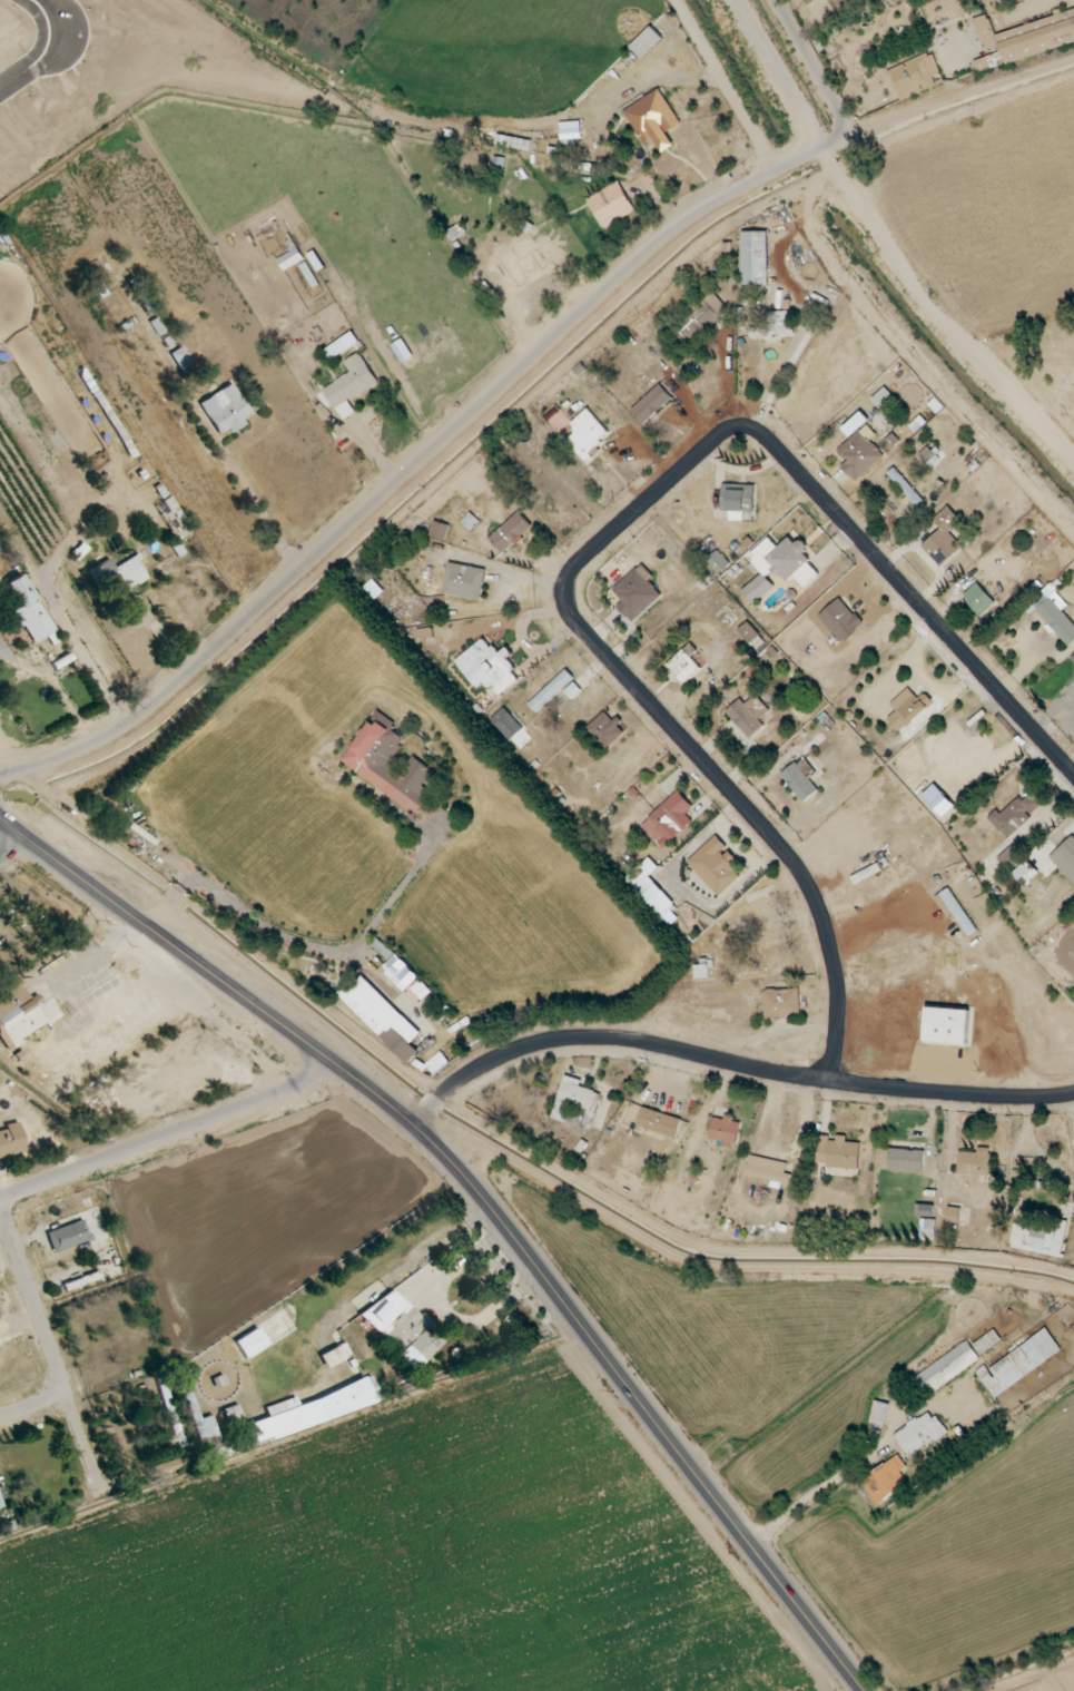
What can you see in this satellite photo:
building: (985, 32)
building: (1037, 36)
building: (647, 43)
road: (778, 75)
building: (914, 77)
building: (652, 120)
building: (570, 132)
building: (512, 142)
building: (610, 205)
building: (753, 258)
building: (290, 259)
building: (509, 272)
road: (956, 278)
building: (701, 316)
building: (775, 325)
building: (180, 360)
building: (351, 385)
building: (881, 399)
building: (651, 404)
road: (476, 405)
building: (225, 410)
building: (855, 424)
building: (587, 434)
building: (859, 454)
building: (905, 488)
road: (248, 495)
building: (738, 501)
building: (439, 531)
building: (510, 532)
road: (608, 535)
building: (943, 539)
building: (785, 561)
building: (716, 562)
building: (127, 573)
building: (464, 581)
building: (757, 589)
building: (637, 593)
building: (978, 600)
road: (49, 602)
building: (28, 610)
building: (1054, 616)
building: (840, 620)
building: (750, 636)
building: (1072, 660)
building: (683, 665)
building: (487, 667)
building: (550, 691)
building: (572, 691)
building: (907, 710)
building: (748, 716)
building: (506, 725)
building: (605, 730)
building: (366, 760)
building: (800, 779)
building: (1014, 815)
building: (669, 820)
park: (7, 843)
road: (11, 847)
building: (1065, 858)
building: (715, 866)
building: (651, 893)
building: (957, 912)
road: (878, 924)
road: (312, 947)
building: (701, 972)
building: (421, 990)
building: (781, 1003)
building: (18, 1015)
building: (381, 1016)
building: (946, 1026)
road: (729, 1064)
building: (575, 1100)
building: (659, 1123)
building: (723, 1131)
road: (165, 1135)
building: (10, 1139)
building: (837, 1153)
building: (906, 1160)
building: (973, 1162)
building: (768, 1170)
road: (484, 1200)
building: (953, 1216)
building: (927, 1230)
building: (68, 1236)
building: (1039, 1239)
road: (412, 1264)
building: (400, 1327)
building: (986, 1343)
building: (249, 1345)
road: (52, 1349)
building: (334, 1355)
building: (1019, 1364)
building: (943, 1372)
road: (32, 1404)
building: (309, 1410)
building: (879, 1414)
building: (233, 1415)
building: (919, 1434)
building: (169, 1465)
road: (847, 1471)
building: (885, 1479)

